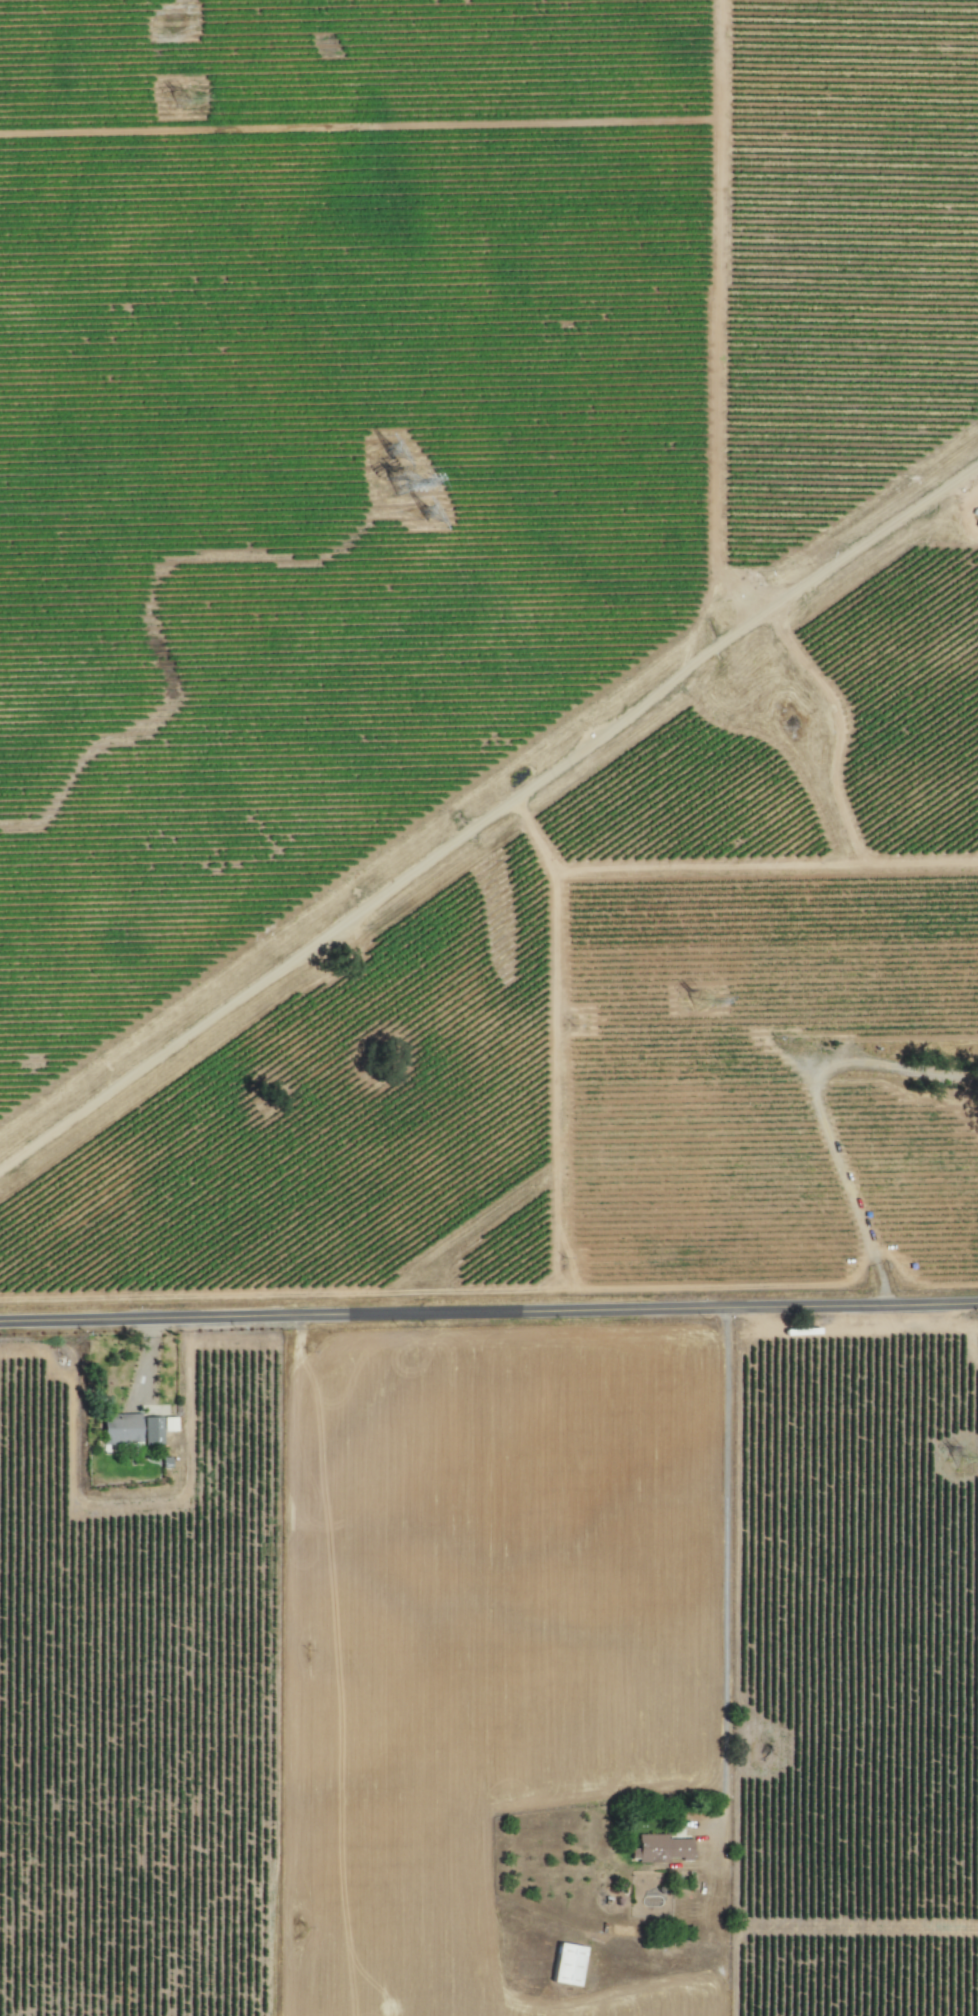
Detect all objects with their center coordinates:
power tower: (192, 97)
power tower: (405, 452)
power tower: (412, 485)
power tower: (435, 519)
road: (488, 821)
power tower: (705, 1006)
road: (825, 1112)
road: (489, 1309)
power tower: (962, 1453)
road: (725, 1545)
building: (662, 1847)
building: (568, 1964)

